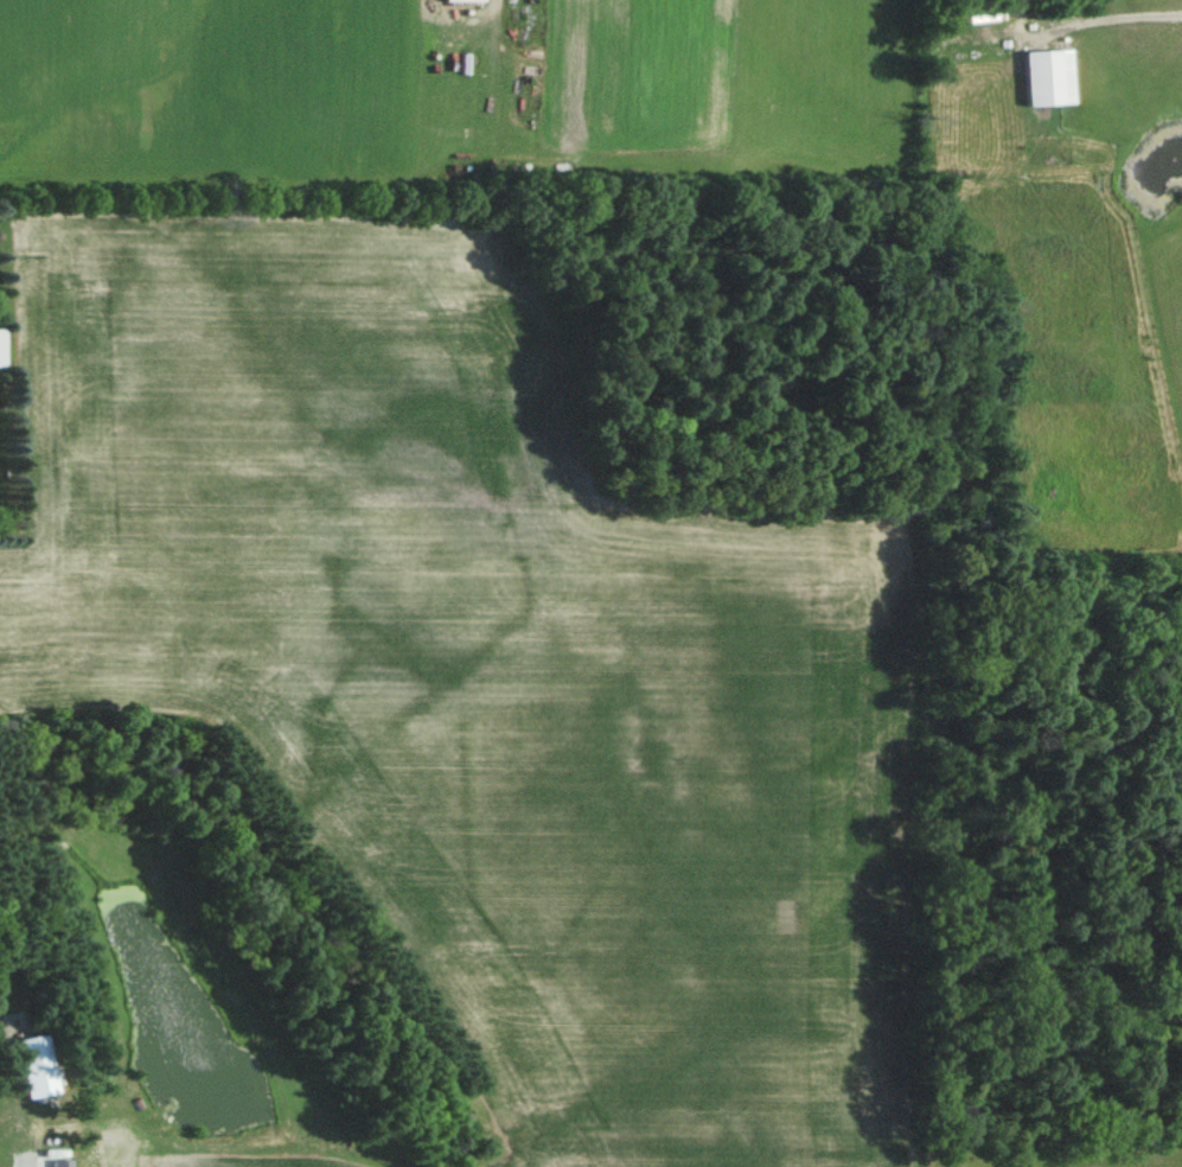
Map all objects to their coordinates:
building: (1034, 76)
building: (21, 1065)

